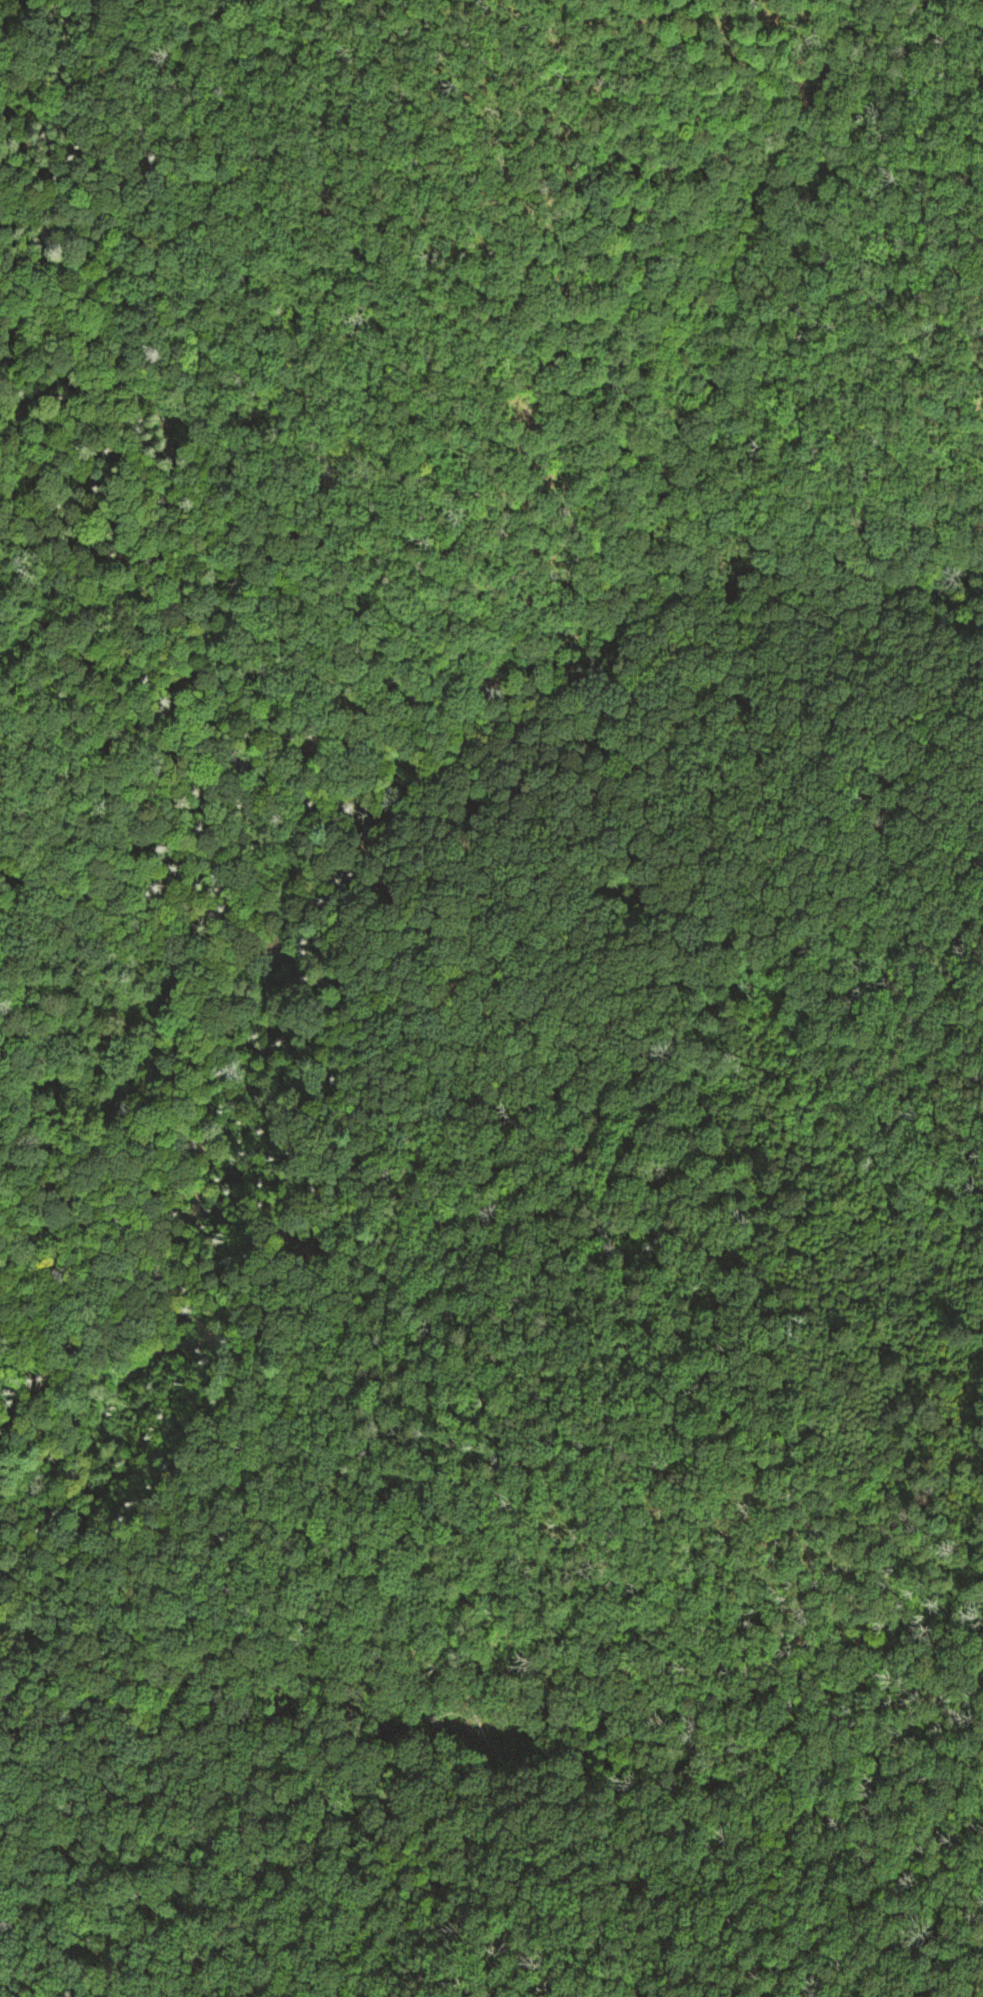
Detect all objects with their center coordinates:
road: (209, 869)
road: (979, 1992)

